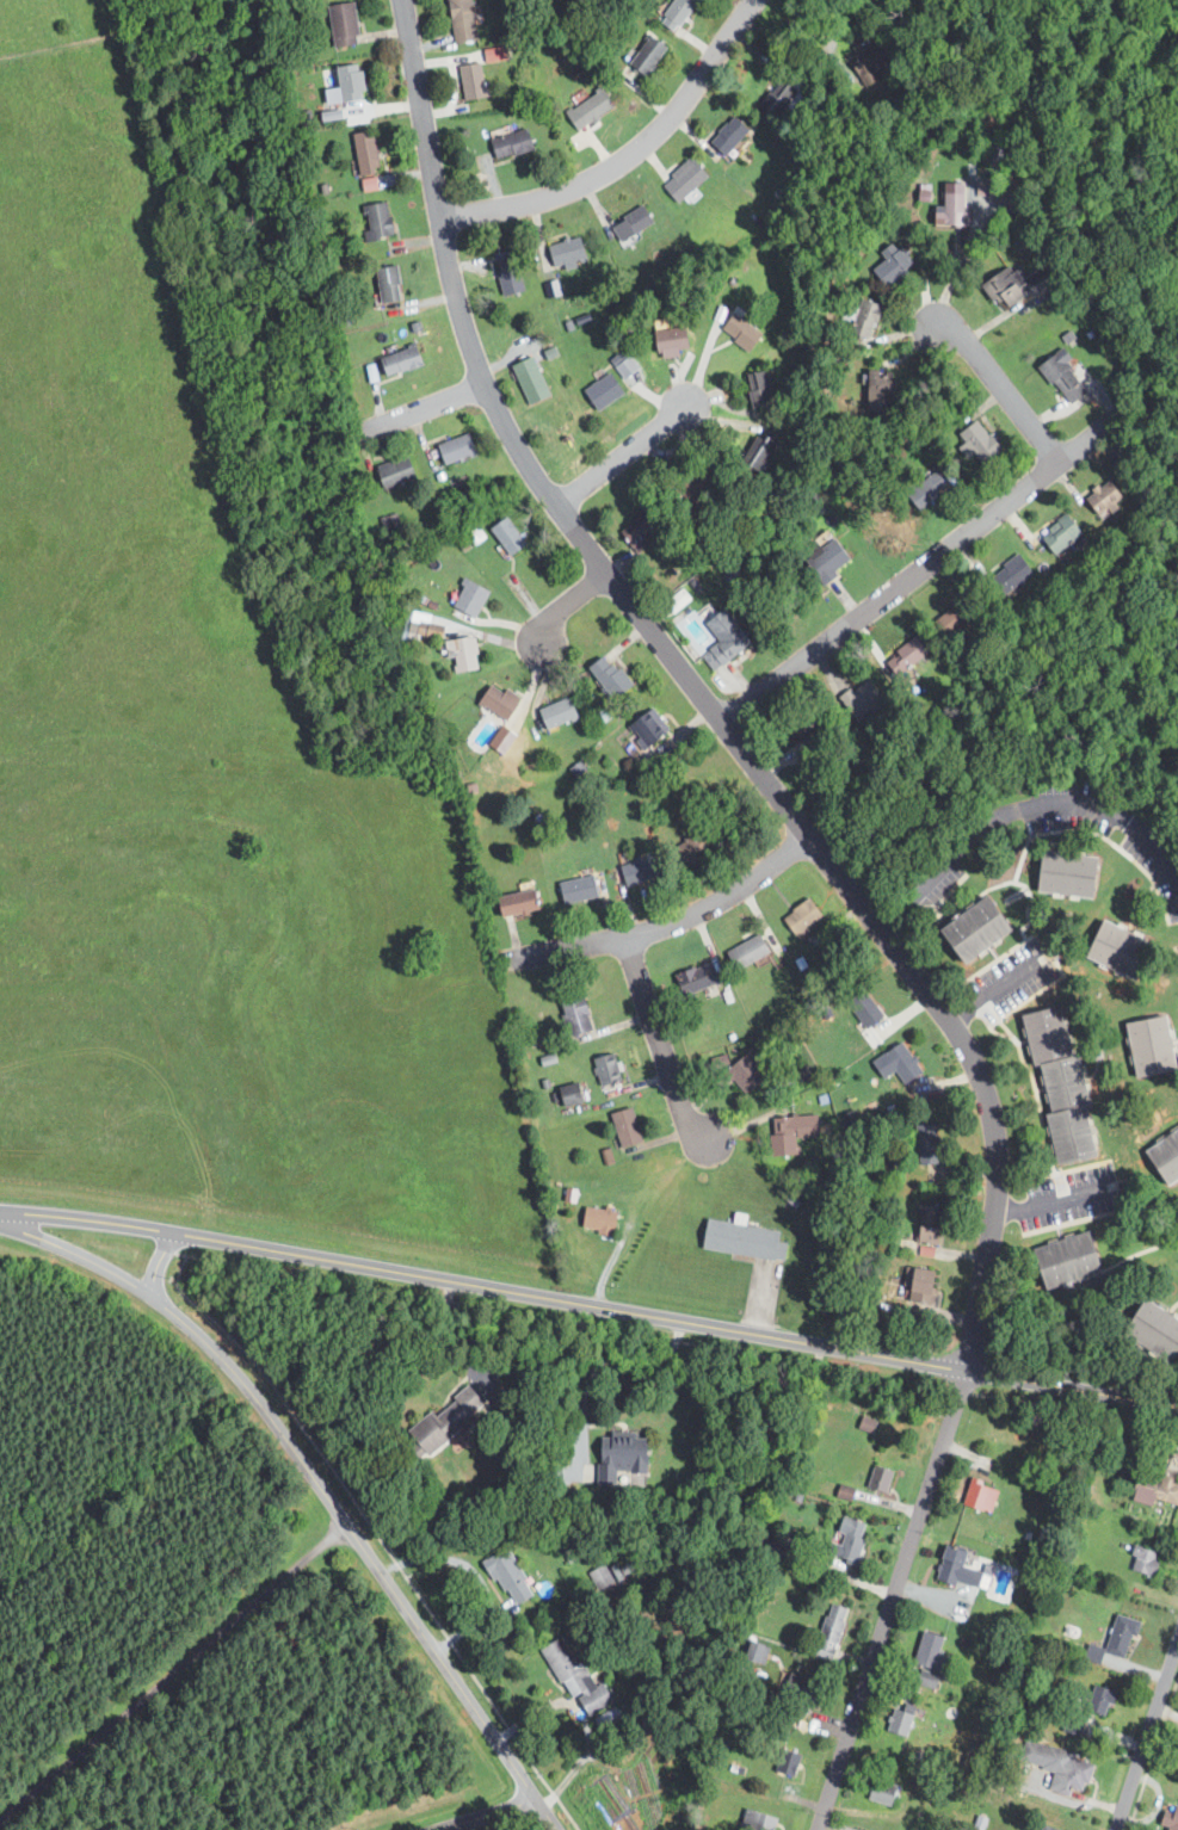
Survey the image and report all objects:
building: (673, 13)
building: (458, 19)
building: (340, 21)
road: (832, 32)
building: (492, 52)
building: (644, 54)
building: (469, 79)
building: (346, 80)
building: (775, 94)
building: (585, 109)
building: (726, 135)
building: (507, 142)
building: (362, 150)
road: (628, 156)
building: (680, 179)
building: (366, 183)
building: (951, 203)
building: (375, 218)
building: (629, 222)
building: (563, 251)
building: (888, 262)
building: (384, 282)
building: (508, 282)
building: (1007, 285)
building: (864, 320)
building: (736, 329)
building: (667, 339)
building: (396, 359)
building: (621, 363)
building: (1060, 375)
building: (528, 378)
building: (753, 384)
road: (1000, 384)
building: (599, 390)
road: (423, 408)
building: (974, 439)
building: (451, 447)
road: (624, 455)
building: (393, 471)
building: (923, 489)
building: (1100, 499)
building: (504, 533)
building: (1056, 533)
building: (470, 537)
building: (634, 537)
building: (825, 556)
road: (914, 571)
building: (1005, 576)
building: (467, 598)
road: (566, 604)
building: (720, 638)
building: (458, 651)
building: (605, 674)
building: (853, 699)
building: (497, 700)
building: (554, 712)
building: (644, 725)
road: (1024, 810)
building: (699, 847)
building: (643, 868)
building: (1071, 872)
road: (847, 886)
building: (580, 889)
building: (520, 902)
building: (806, 916)
road: (668, 923)
building: (980, 928)
building: (1123, 948)
building: (751, 951)
building: (698, 978)
road: (994, 990)
building: (861, 1007)
building: (579, 1015)
road: (661, 1045)
building: (1155, 1045)
building: (906, 1062)
building: (610, 1069)
building: (748, 1072)
building: (1065, 1084)
building: (574, 1093)
building: (629, 1127)
building: (792, 1132)
building: (930, 1143)
building: (1167, 1155)
road: (1054, 1203)
building: (602, 1220)
building: (932, 1225)
building: (746, 1239)
building: (1073, 1260)
road: (160, 1262)
building: (924, 1286)
road: (588, 1305)
building: (1157, 1329)
road: (457, 1335)
road: (612, 1370)
building: (449, 1421)
building: (864, 1423)
building: (624, 1455)
road: (306, 1469)
building: (882, 1478)
building: (1161, 1486)
building: (983, 1495)
building: (852, 1540)
building: (1148, 1562)
building: (961, 1568)
building: (603, 1575)
building: (511, 1577)
building: (833, 1631)
building: (1124, 1636)
building: (752, 1651)
building: (932, 1659)
road: (171, 1670)
building: (578, 1676)
building: (801, 1696)
building: (1092, 1708)
building: (901, 1723)
road: (1146, 1732)
road: (1152, 1751)
building: (790, 1763)
building: (1062, 1766)
building: (884, 1792)
road: (545, 1814)
road: (482, 1816)
building: (1172, 1817)
building: (759, 1820)
building: (1053, 1828)

